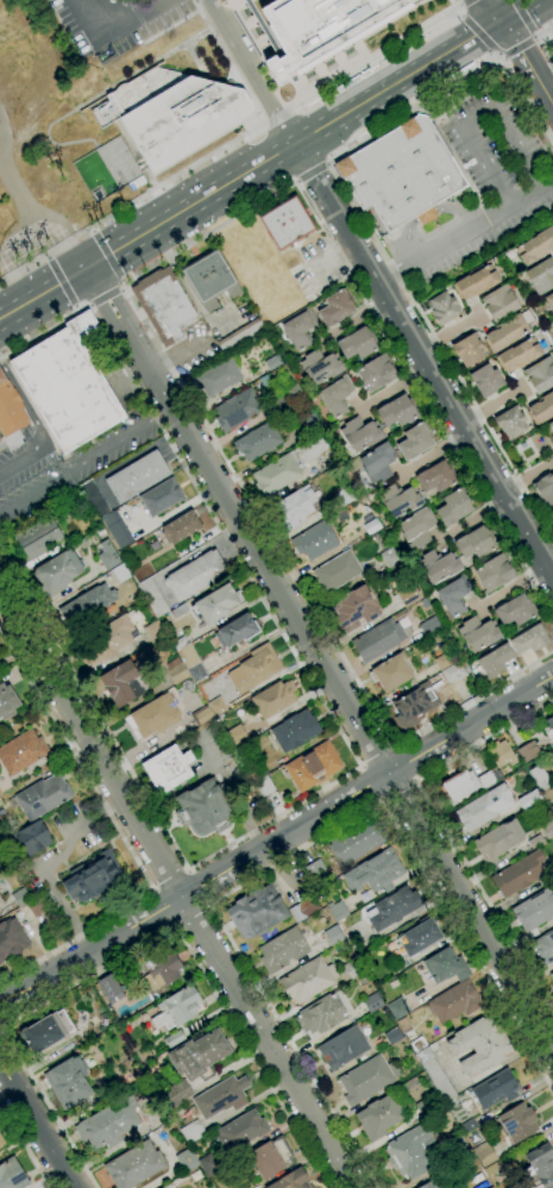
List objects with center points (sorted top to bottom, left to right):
road: (463, 1)
road: (458, 5)
road: (491, 10)
road: (515, 10)
road: (522, 14)
road: (457, 15)
traffic signals: (499, 19)
parking lot: (114, 23)
building: (262, 25)
road: (111, 26)
building: (320, 27)
road: (478, 32)
road: (534, 33)
road: (534, 39)
road: (536, 43)
building: (551, 45)
road: (517, 48)
road: (495, 54)
road: (378, 56)
road: (499, 56)
road: (526, 61)
road: (251, 70)
road: (396, 81)
building: (176, 114)
road: (278, 115)
road: (476, 118)
railway: (263, 157)
park: (117, 162)
railway: (272, 163)
road: (326, 164)
road: (312, 173)
building: (402, 174)
park: (93, 175)
parking lot: (486, 179)
road: (296, 181)
road: (132, 202)
road: (189, 205)
road: (27, 208)
road: (427, 213)
road: (362, 219)
building: (285, 223)
road: (89, 231)
road: (464, 231)
building: (535, 246)
building: (509, 254)
road: (107, 255)
road: (45, 257)
road: (334, 258)
traffic signals: (86, 268)
parking lot: (316, 269)
building: (540, 275)
building: (209, 279)
road: (62, 282)
road: (120, 283)
building: (475, 283)
road: (120, 288)
road: (125, 292)
road: (43, 293)
road: (105, 296)
building: (549, 300)
building: (499, 302)
building: (162, 304)
road: (89, 306)
building: (335, 307)
building: (442, 307)
road: (76, 309)
building: (299, 330)
road: (43, 332)
building: (504, 333)
building: (240, 336)
building: (358, 343)
building: (467, 350)
building: (517, 355)
road: (422, 361)
building: (272, 362)
building: (321, 365)
building: (376, 373)
building: (540, 375)
building: (216, 377)
building: (486, 380)
building: (264, 381)
building: (68, 384)
building: (291, 390)
building: (335, 396)
building: (541, 408)
building: (237, 409)
building: (397, 411)
building: (11, 414)
building: (510, 423)
road: (36, 425)
building: (310, 425)
building: (551, 427)
building: (360, 433)
building: (415, 440)
building: (258, 442)
building: (1, 443)
building: (313, 448)
road: (84, 462)
building: (377, 462)
building: (277, 473)
parking lot: (33, 474)
building: (137, 476)
building: (436, 477)
building: (543, 489)
building: (344, 494)
building: (161, 498)
building: (94, 499)
building: (400, 500)
building: (453, 507)
building: (295, 508)
building: (551, 515)
building: (370, 525)
building: (181, 527)
building: (416, 527)
building: (117, 529)
road: (225, 536)
building: (37, 537)
building: (314, 540)
building: (475, 542)
building: (107, 556)
building: (390, 557)
building: (438, 565)
building: (57, 571)
building: (119, 573)
building: (335, 573)
building: (494, 573)
building: (195, 575)
building: (454, 595)
building: (408, 596)
building: (152, 598)
building: (215, 604)
building: (425, 604)
building: (87, 605)
building: (354, 609)
building: (515, 611)
building: (178, 612)
building: (429, 625)
building: (153, 631)
building: (237, 631)
building: (478, 633)
building: (529, 639)
building: (107, 640)
building: (377, 640)
building: (181, 642)
building: (187, 656)
road: (320, 659)
building: (442, 661)
building: (495, 661)
building: (254, 669)
building: (176, 671)
building: (454, 671)
building: (196, 673)
building: (390, 673)
building: (122, 682)
building: (7, 699)
building: (274, 699)
building: (216, 706)
building: (414, 706)
building: (203, 715)
building: (151, 717)
building: (549, 723)
building: (294, 731)
building: (238, 734)
building: (527, 750)
building: (21, 752)
building: (501, 754)
road: (377, 757)
road: (408, 762)
building: (313, 767)
building: (168, 769)
building: (257, 770)
building: (488, 777)
building: (541, 781)
road: (369, 784)
building: (263, 786)
building: (460, 786)
road: (400, 790)
building: (43, 796)
road: (145, 798)
building: (528, 799)
building: (202, 807)
building: (484, 807)
building: (1, 813)
road: (444, 827)
building: (547, 827)
road: (121, 837)
building: (33, 838)
road: (276, 839)
building: (357, 839)
building: (498, 840)
road: (297, 850)
building: (0, 863)
building: (315, 870)
building: (375, 873)
building: (519, 874)
road: (169, 875)
building: (95, 879)
road: (199, 887)
road: (176, 889)
building: (20, 896)
building: (1, 902)
building: (37, 906)
road: (161, 908)
building: (394, 908)
building: (303, 909)
building: (534, 909)
building: (338, 911)
building: (256, 912)
road: (191, 914)
building: (333, 936)
building: (419, 937)
building: (12, 939)
road: (139, 944)
building: (543, 948)
building: (282, 950)
building: (446, 967)
building: (161, 969)
building: (351, 970)
building: (552, 976)
building: (307, 980)
building: (109, 988)
building: (454, 1002)
building: (372, 1003)
building: (177, 1008)
building: (397, 1008)
building: (322, 1014)
road: (2, 1023)
road: (1, 1030)
building: (46, 1032)
building: (172, 1038)
building: (480, 1045)
building: (343, 1048)
building: (199, 1056)
building: (436, 1077)
building: (366, 1080)
building: (68, 1081)
building: (111, 1088)
building: (495, 1089)
building: (176, 1094)
building: (221, 1096)
building: (427, 1105)
building: (379, 1117)
building: (517, 1123)
road: (38, 1124)
building: (108, 1124)
building: (467, 1126)
building: (243, 1130)
building: (191, 1132)
building: (1, 1143)
road: (24, 1145)
building: (413, 1150)
building: (484, 1155)
building: (271, 1157)
building: (187, 1161)
building: (207, 1163)
building: (541, 1164)
building: (134, 1165)
building: (12, 1175)
building: (291, 1180)
building: (429, 1184)
building: (490, 1187)

